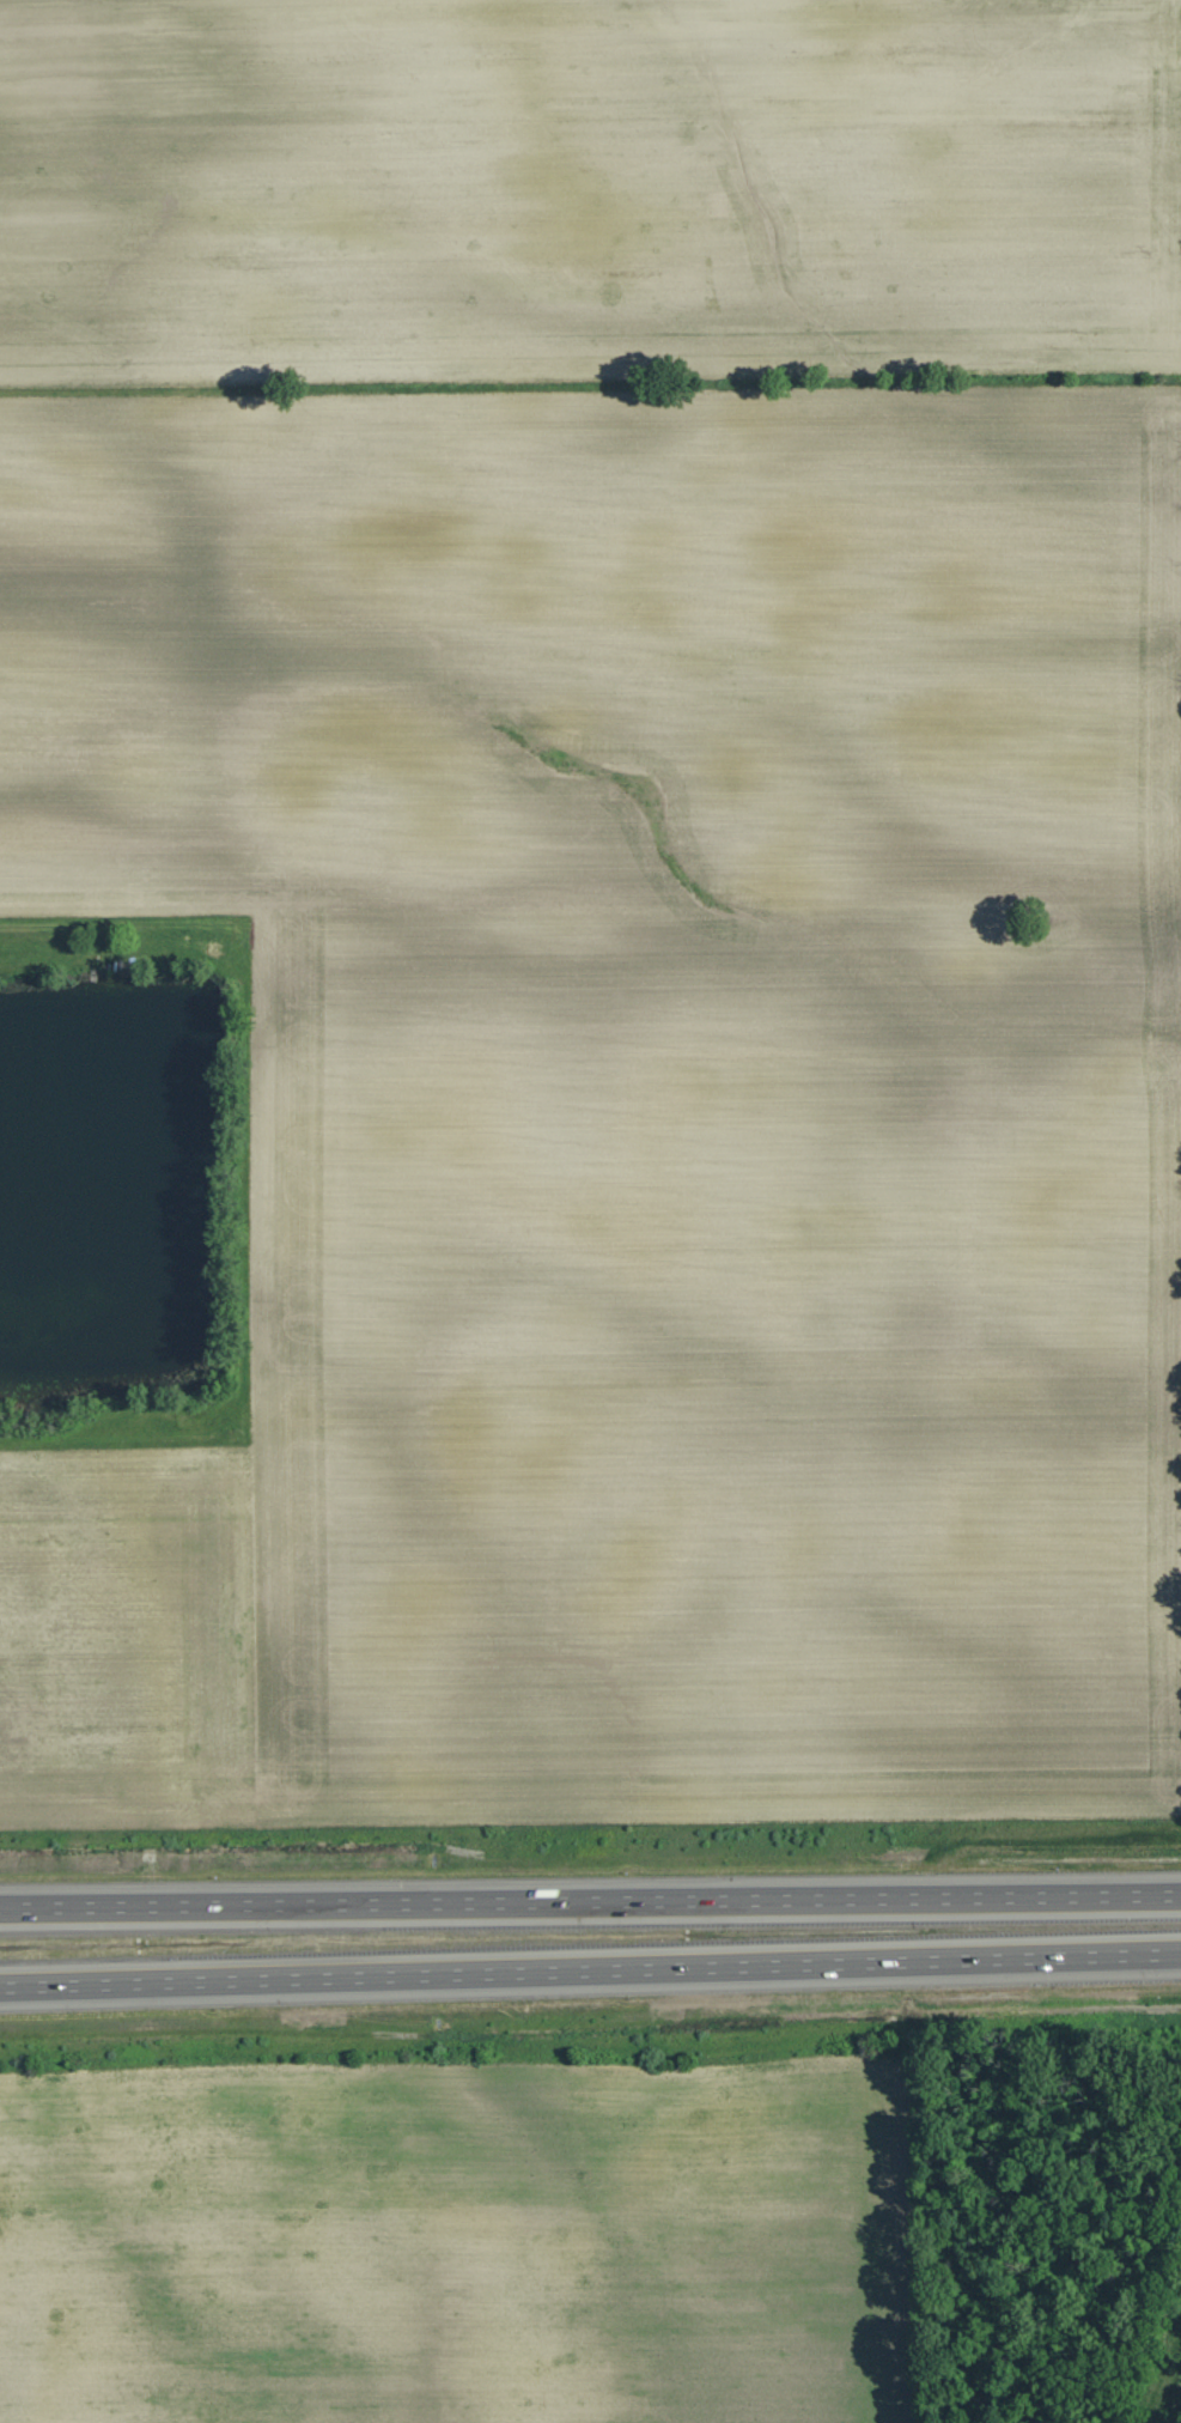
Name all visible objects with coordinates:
road: (590, 1896)
road: (590, 1975)

